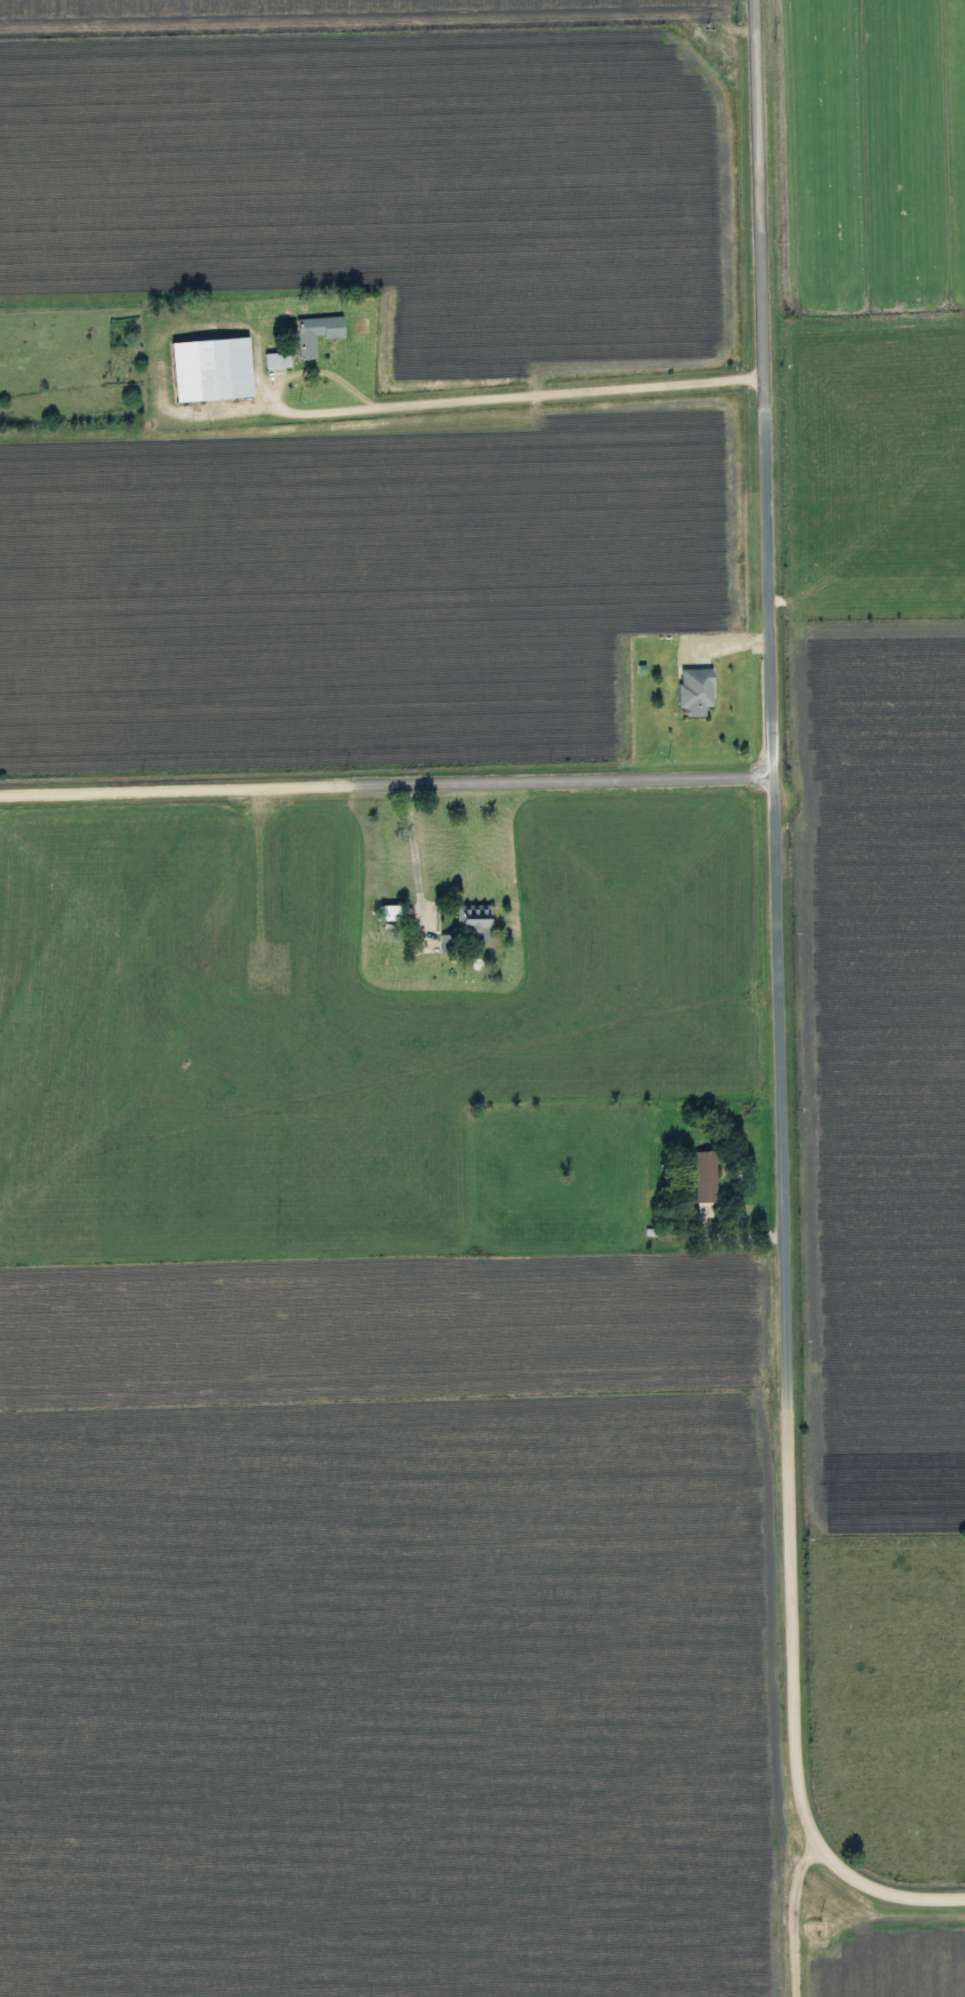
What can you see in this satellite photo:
building: (317, 333)
building: (279, 360)
building: (214, 369)
road: (492, 392)
building: (686, 691)
road: (388, 784)
road: (408, 860)
building: (380, 913)
building: (465, 927)
building: (437, 944)
road: (781, 1006)
building: (696, 1183)
road: (790, 1916)

